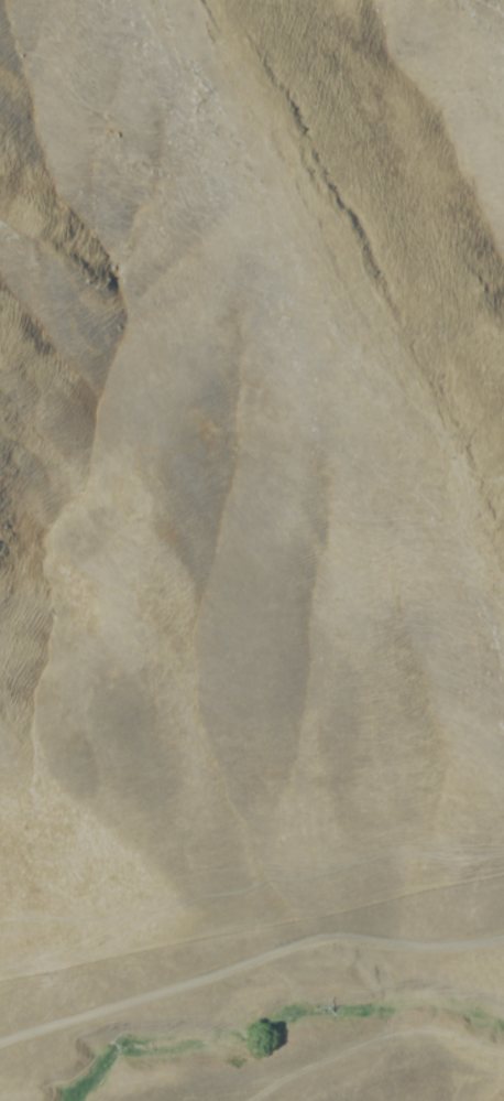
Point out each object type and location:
road: (252, 757)

